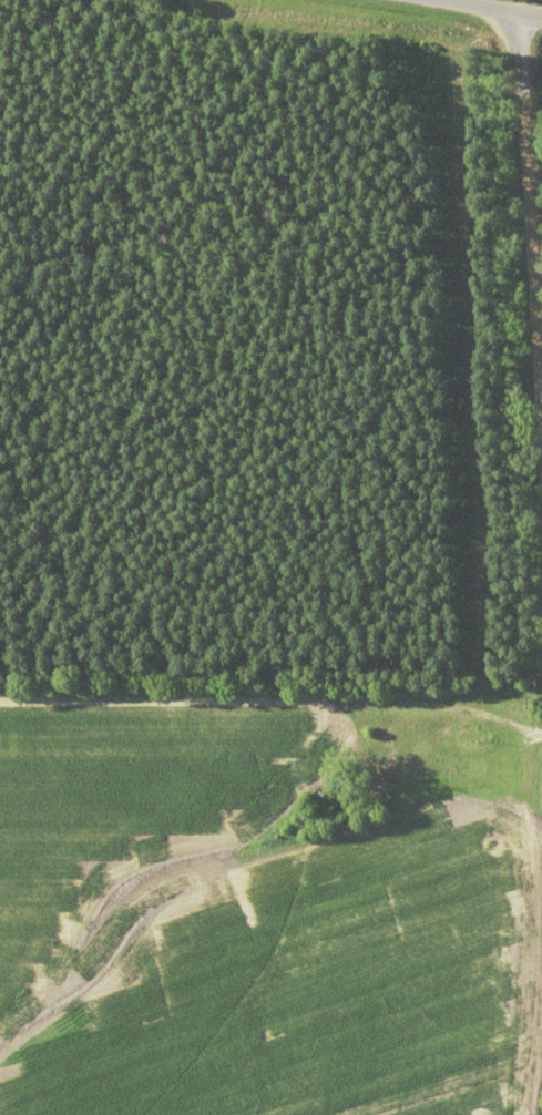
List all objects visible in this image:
road: (497, 6)
road: (530, 238)
road: (432, 705)

